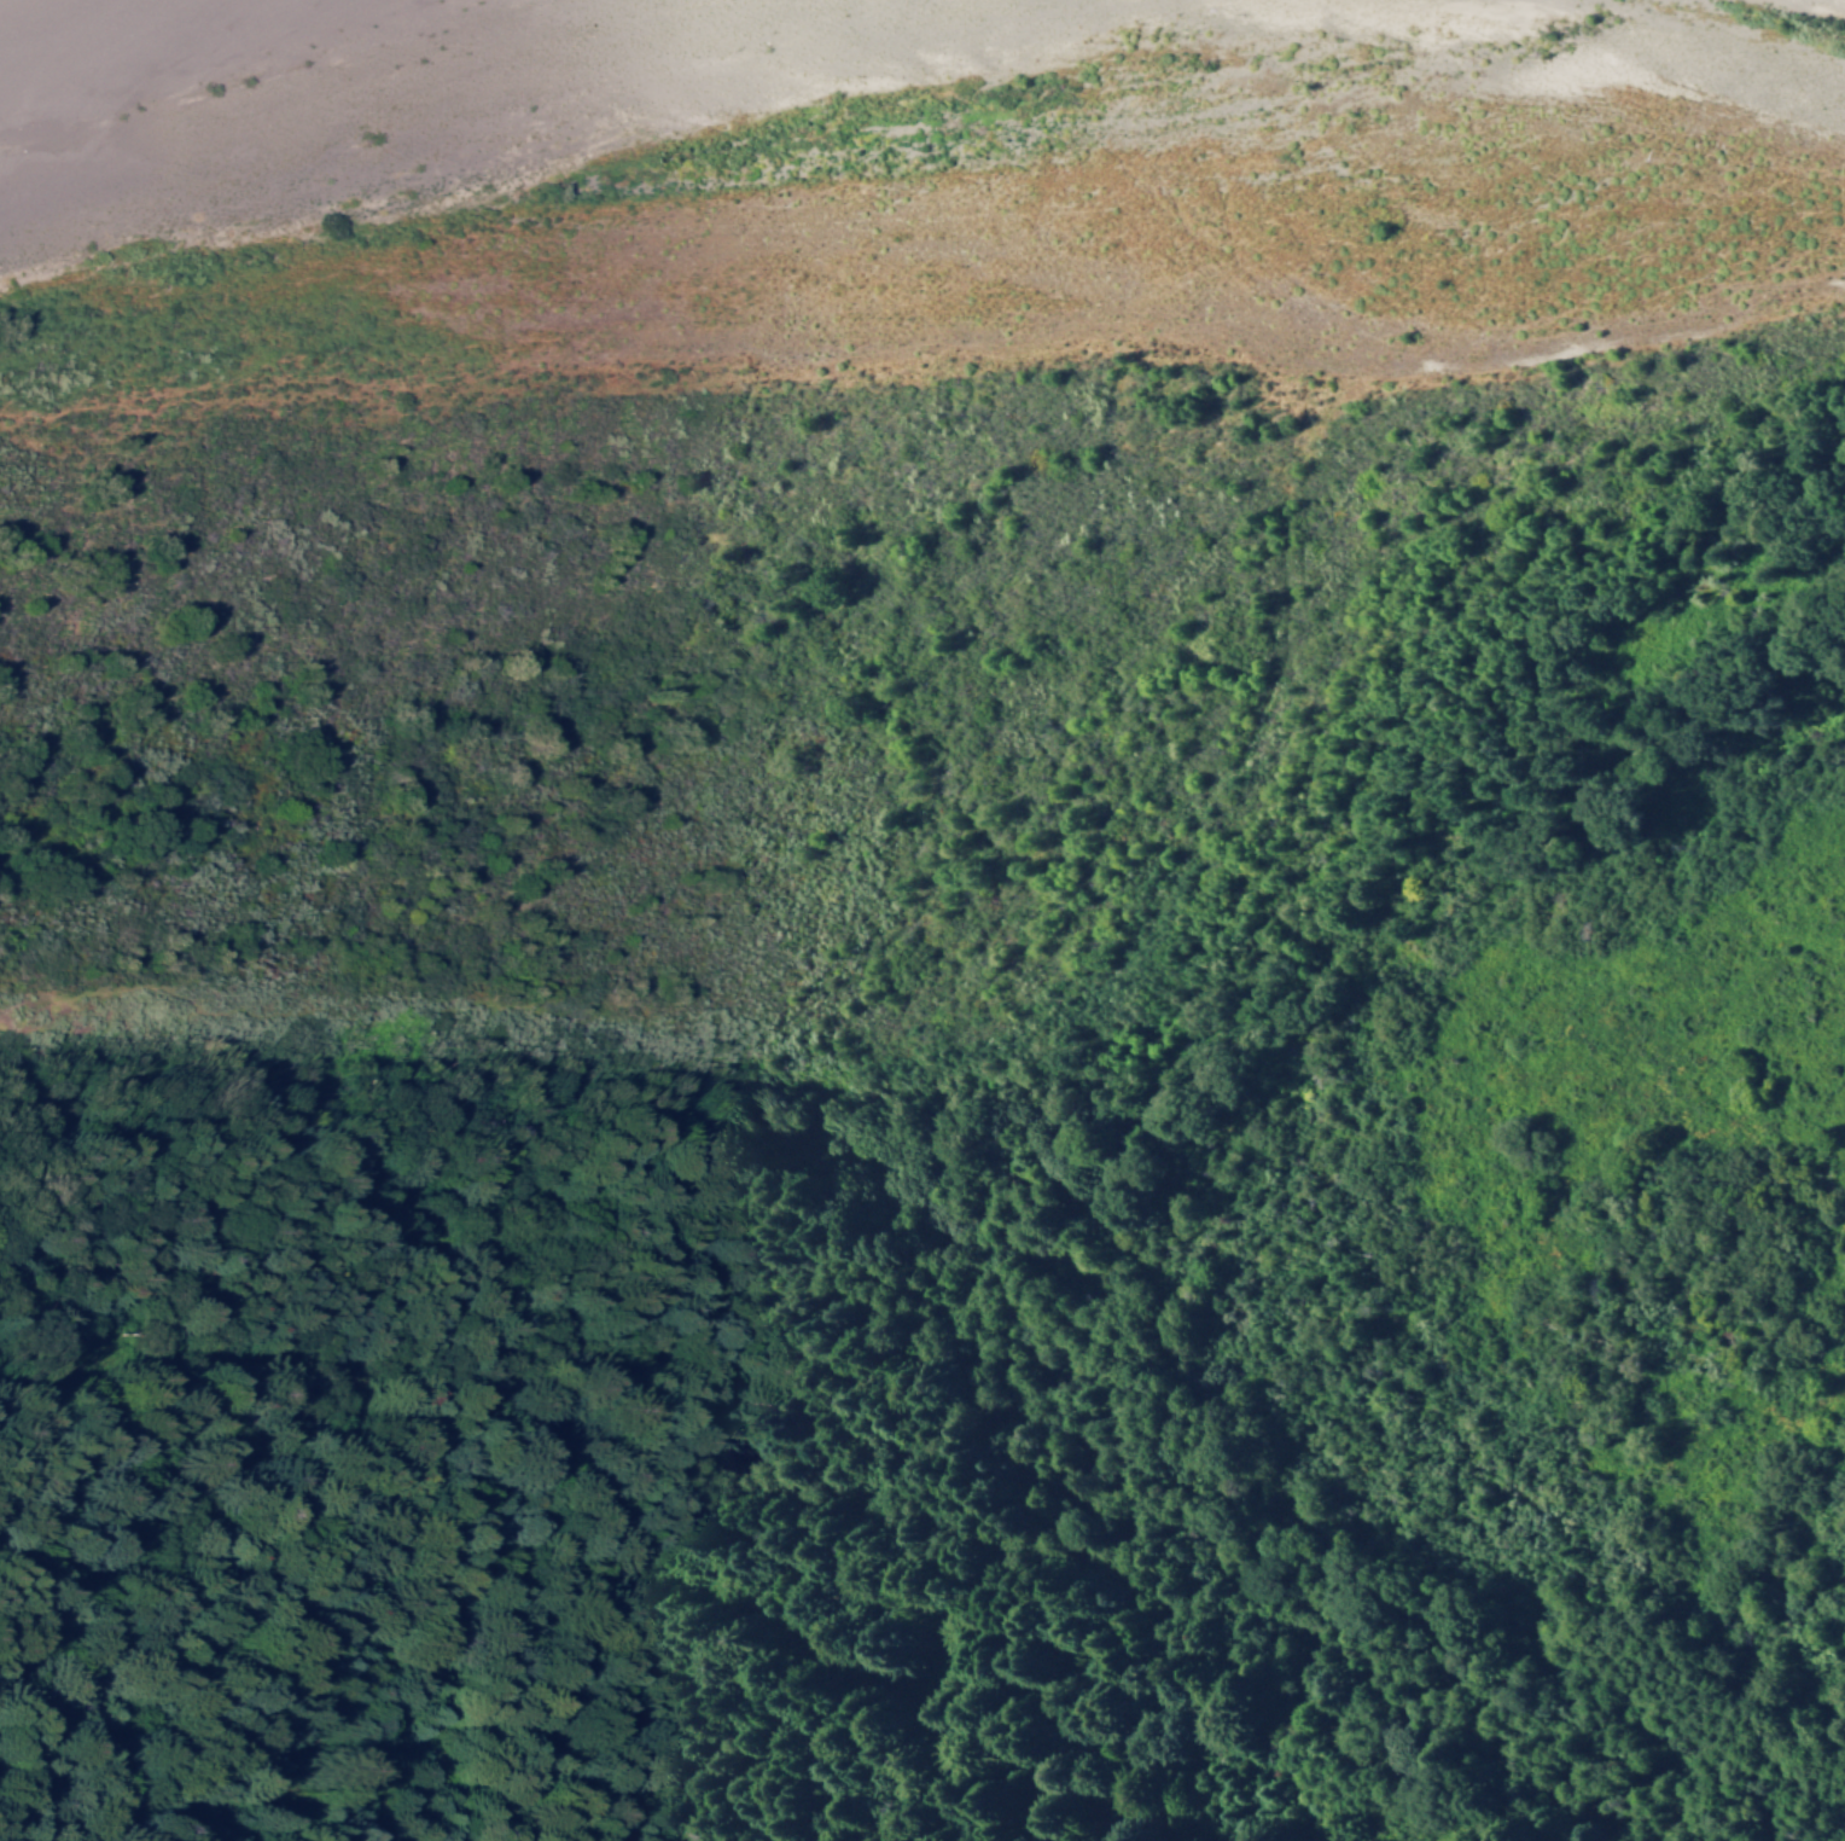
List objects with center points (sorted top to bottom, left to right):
road: (617, 1586)

